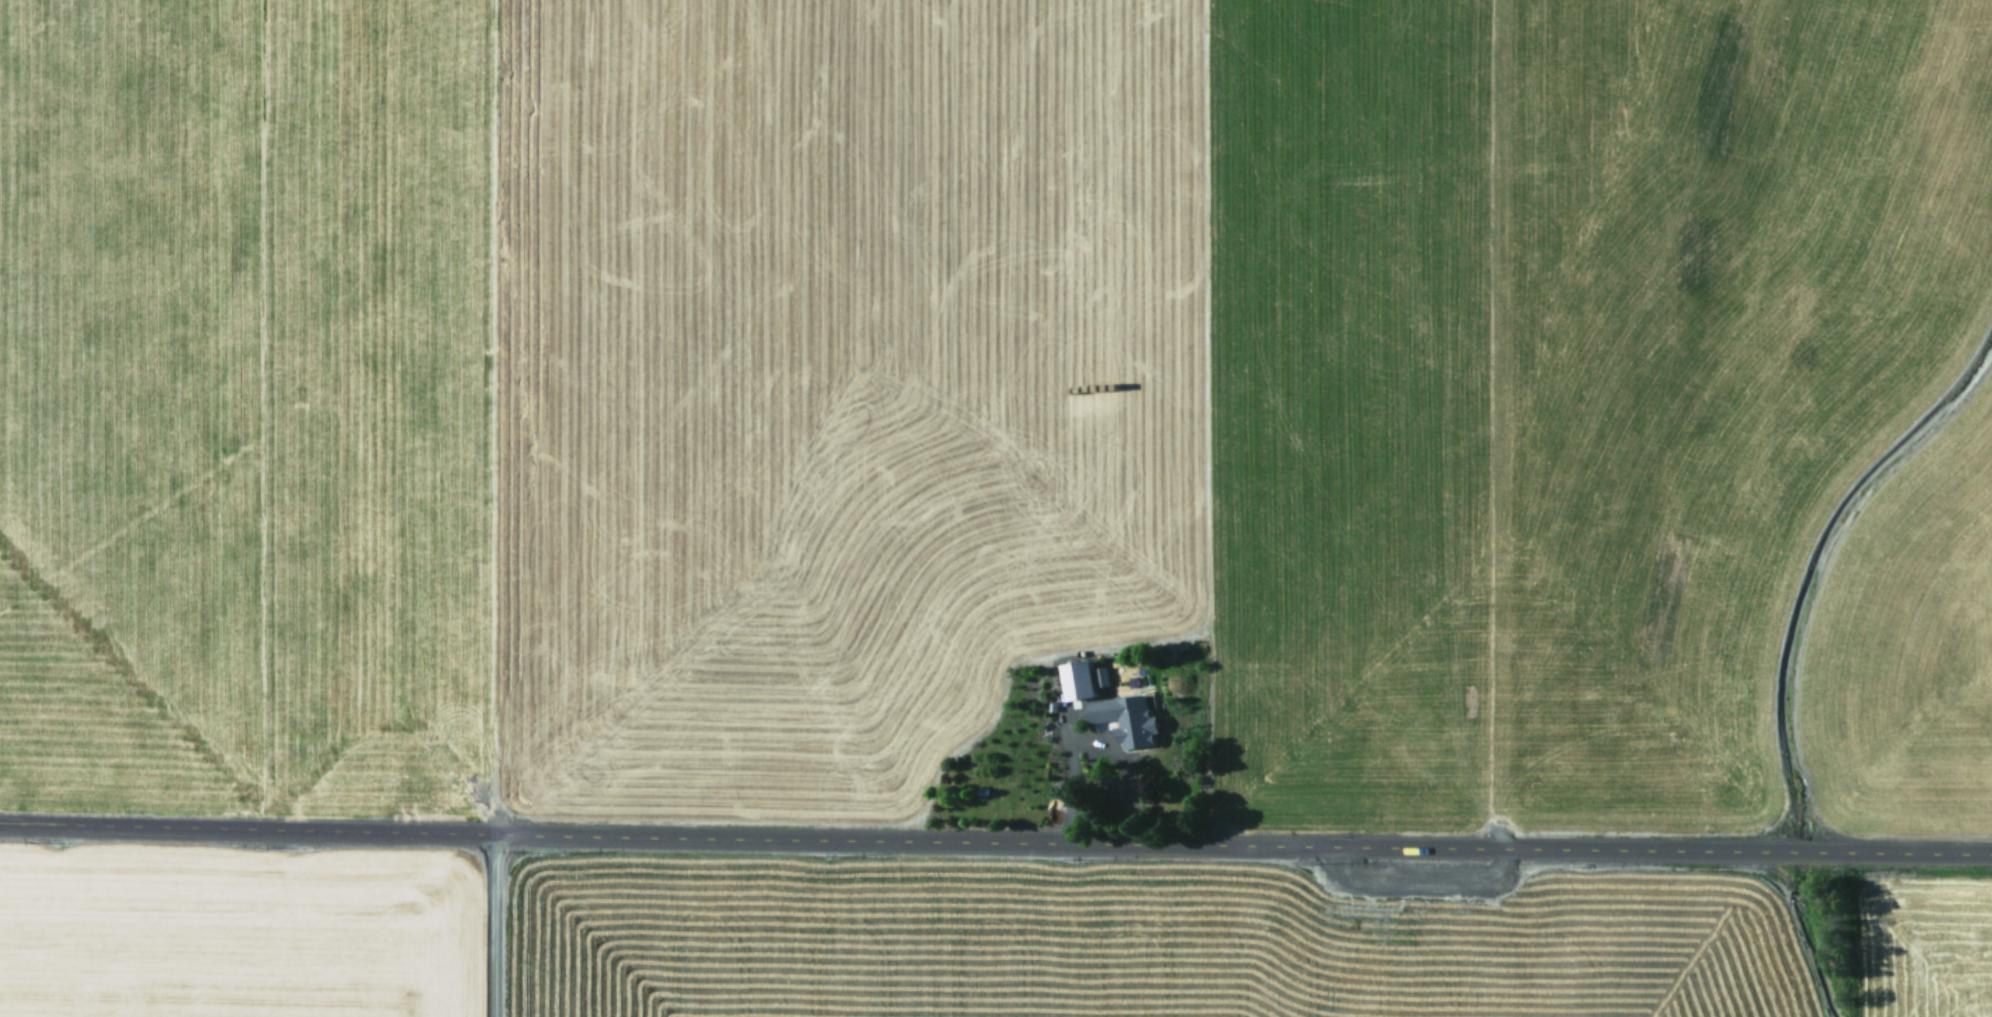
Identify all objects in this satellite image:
crop: (996, 508)
road: (996, 832)
road: (1323, 926)

